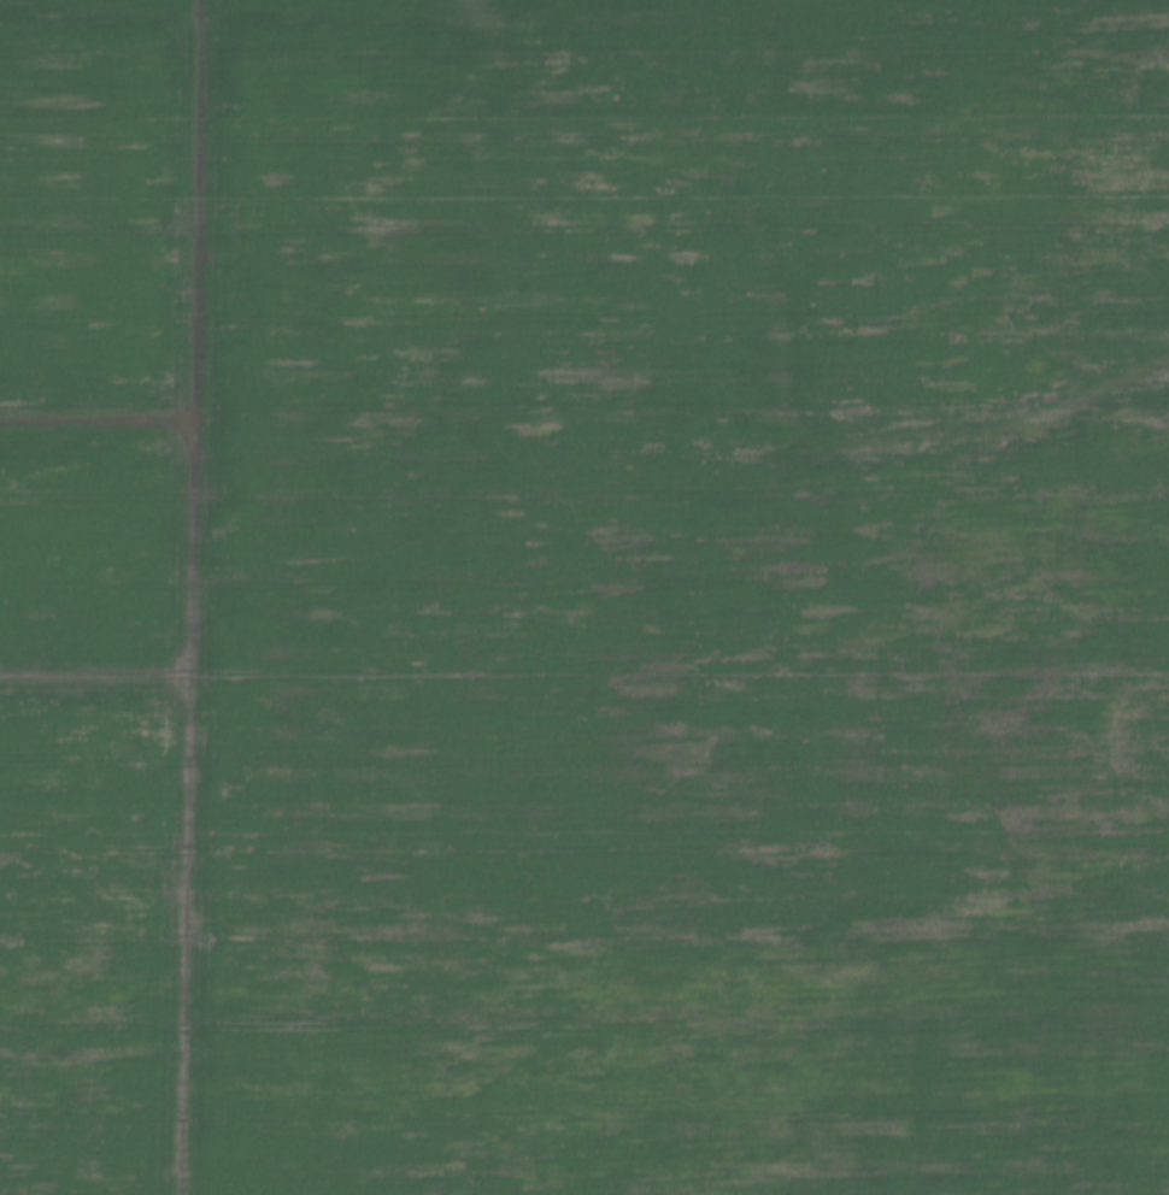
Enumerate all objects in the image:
crop: (584, 597)

